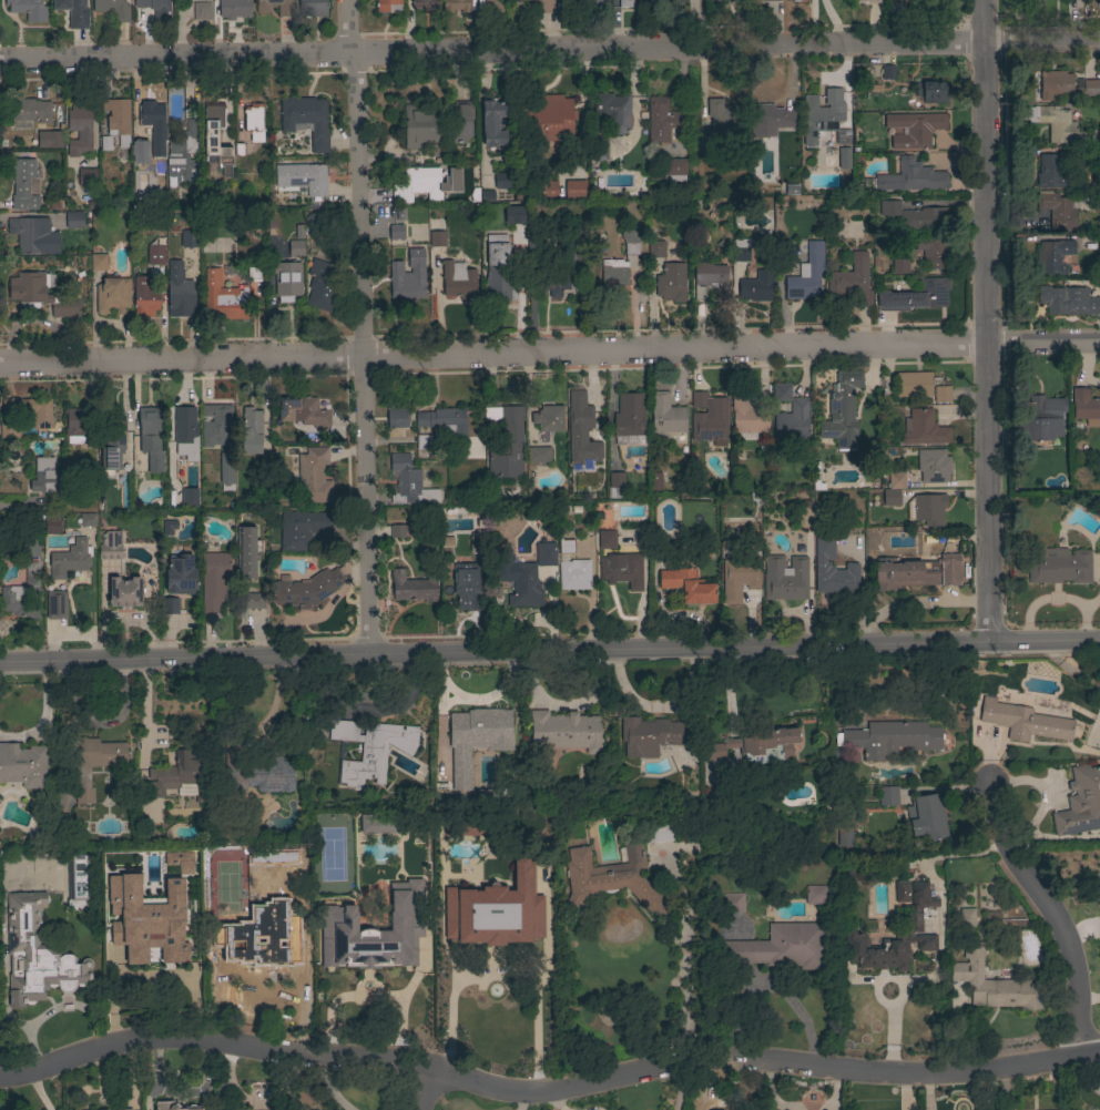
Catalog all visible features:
building: (713, 0)
building: (772, 0)
building: (672, 1)
building: (791, 1)
building: (870, 1)
building: (625, 3)
building: (425, 4)
building: (592, 4)
building: (388, 6)
building: (455, 6)
building: (543, 6)
building: (155, 8)
building: (234, 8)
building: (313, 8)
building: (493, 8)
building: (28, 9)
building: (113, 9)
building: (284, 9)
building: (894, 9)
building: (202, 11)
building: (73, 12)
road: (833, 22)
road: (549, 51)
building: (887, 72)
building: (1066, 85)
building: (931, 92)
building: (612, 111)
building: (27, 112)
building: (153, 118)
building: (547, 118)
building: (118, 120)
building: (306, 120)
building: (771, 120)
building: (461, 121)
building: (662, 121)
building: (253, 122)
building: (721, 122)
building: (492, 123)
building: (1056, 123)
building: (822, 124)
building: (80, 128)
building: (420, 128)
building: (914, 129)
building: (215, 135)
building: (50, 140)
building: (599, 149)
building: (140, 152)
building: (183, 154)
building: (1087, 155)
building: (844, 159)
building: (674, 170)
building: (1050, 171)
building: (86, 177)
building: (911, 177)
building: (302, 179)
building: (503, 181)
building: (426, 183)
building: (23, 184)
building: (546, 189)
building: (574, 190)
building: (54, 204)
building: (889, 207)
building: (1058, 211)
building: (517, 215)
building: (314, 216)
building: (925, 220)
building: (74, 221)
building: (396, 232)
building: (33, 235)
building: (185, 240)
building: (437, 240)
building: (1099, 243)
building: (296, 248)
building: (656, 250)
building: (741, 251)
building: (931, 252)
building: (536, 254)
building: (155, 255)
building: (1052, 256)
building: (99, 262)
building: (621, 264)
building: (899, 266)
building: (498, 269)
building: (254, 273)
building: (806, 274)
building: (408, 277)
building: (287, 281)
building: (458, 281)
building: (852, 281)
building: (671, 282)
building: (711, 282)
building: (554, 284)
building: (323, 285)
building: (756, 286)
building: (42, 294)
building: (112, 295)
building: (916, 296)
building: (145, 297)
building: (181, 297)
building: (223, 299)
building: (1068, 301)
road: (984, 320)
road: (360, 325)
road: (549, 354)
building: (914, 385)
building: (941, 394)
building: (1086, 407)
building: (30, 410)
building: (303, 411)
building: (842, 411)
building: (397, 413)
building: (666, 414)
building: (791, 415)
building: (747, 416)
building: (549, 418)
building: (709, 418)
building: (629, 419)
building: (1042, 419)
building: (442, 420)
building: (75, 425)
building: (216, 425)
building: (924, 429)
building: (9, 430)
building: (185, 430)
building: (251, 431)
building: (151, 438)
building: (582, 438)
building: (422, 441)
building: (507, 442)
building: (112, 445)
building: (539, 456)
building: (933, 466)
building: (226, 475)
building: (312, 475)
building: (45, 476)
building: (816, 478)
building: (655, 481)
building: (409, 482)
building: (615, 486)
building: (894, 489)
building: (189, 497)
building: (927, 509)
building: (88, 520)
building: (52, 522)
building: (169, 528)
building: (302, 529)
building: (398, 531)
building: (607, 539)
building: (478, 542)
building: (110, 546)
building: (31, 547)
building: (247, 552)
building: (546, 553)
building: (70, 559)
building: (1058, 566)
building: (572, 569)
building: (623, 571)
building: (834, 571)
building: (916, 572)
building: (182, 574)
building: (739, 579)
building: (785, 579)
building: (214, 580)
building: (466, 584)
building: (689, 585)
building: (412, 587)
building: (524, 587)
building: (307, 589)
building: (124, 592)
building: (24, 594)
road: (1057, 600)
building: (255, 601)
road: (917, 603)
building: (57, 605)
building: (170, 605)
road: (549, 650)
road: (273, 701)
building: (1099, 706)
building: (1022, 720)
building: (566, 731)
building: (650, 735)
building: (895, 737)
building: (476, 740)
building: (756, 745)
building: (369, 750)
building: (96, 753)
building: (23, 765)
building: (255, 773)
building: (180, 776)
building: (84, 792)
building: (888, 795)
building: (1081, 803)
building: (927, 816)
building: (375, 826)
building: (844, 833)
building: (656, 835)
building: (636, 854)
building: (465, 857)
building: (179, 860)
building: (295, 872)
building: (79, 882)
building: (604, 884)
building: (902, 892)
building: (815, 895)
building: (515, 899)
building: (732, 903)
road: (1051, 915)
building: (965, 917)
building: (144, 919)
building: (1002, 923)
building: (364, 928)
building: (914, 928)
building: (782, 947)
building: (257, 954)
building: (35, 955)
building: (150, 957)
road: (684, 967)
building: (994, 984)
road: (537, 986)
road: (426, 1087)
road: (547, 1087)
building: (173, 1106)
building: (125, 1109)
building: (307, 1109)

